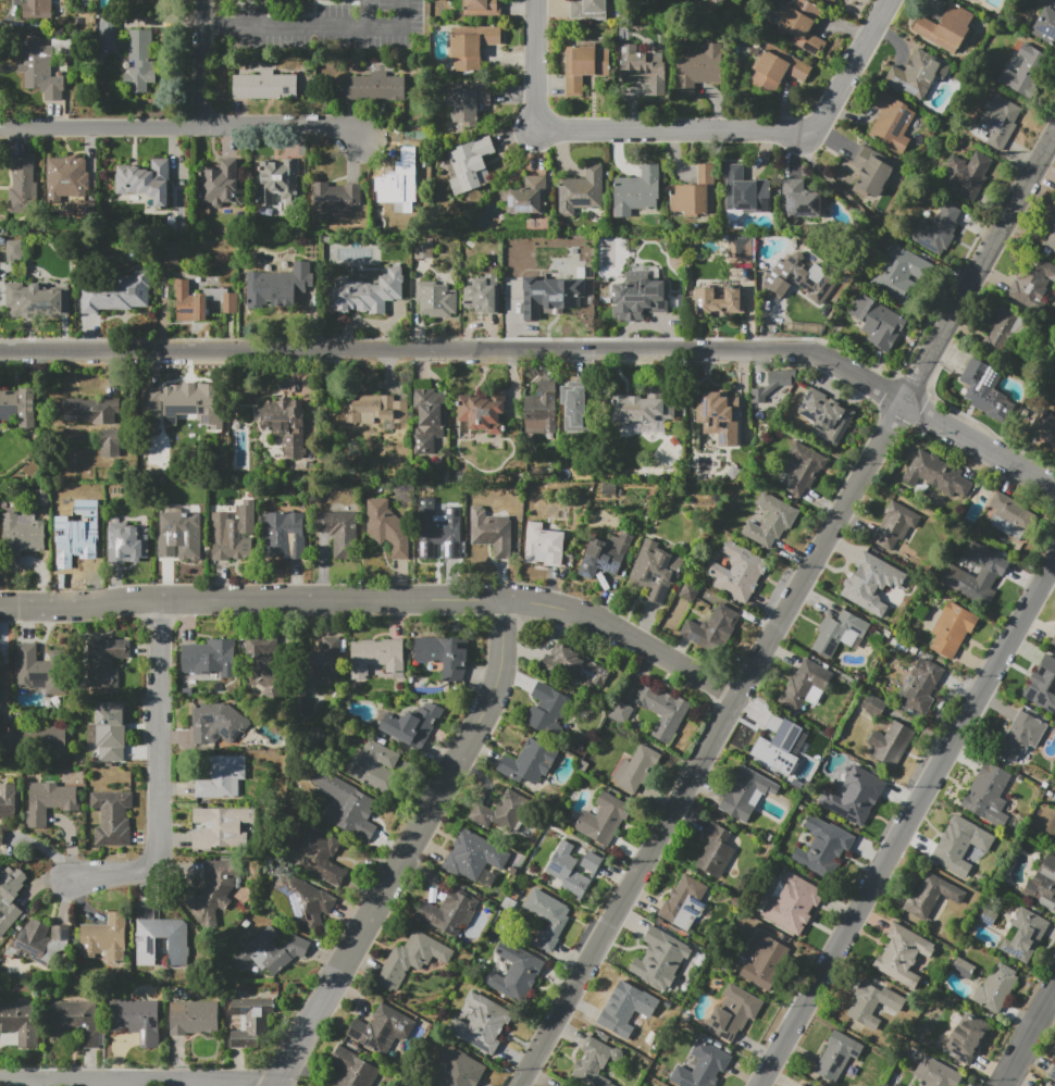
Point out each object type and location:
building: (834, 0)
building: (970, 0)
building: (648, 2)
building: (715, 2)
building: (482, 8)
building: (38, 9)
building: (587, 10)
road: (367, 15)
building: (802, 23)
road: (211, 24)
building: (1046, 24)
building: (945, 28)
road: (318, 30)
building: (108, 36)
building: (471, 47)
building: (140, 60)
road: (204, 64)
building: (584, 66)
building: (698, 67)
building: (643, 68)
building: (777, 68)
building: (39, 70)
building: (1023, 70)
building: (918, 74)
building: (265, 86)
building: (374, 87)
building: (470, 103)
building: (891, 122)
building: (997, 122)
road: (684, 127)
road: (181, 128)
road: (516, 134)
building: (471, 164)
building: (67, 170)
building: (871, 172)
building: (401, 174)
building: (967, 174)
building: (146, 180)
building: (278, 180)
building: (223, 184)
building: (23, 187)
building: (745, 190)
building: (581, 191)
building: (636, 191)
building: (696, 192)
building: (529, 197)
building: (335, 200)
building: (799, 201)
building: (83, 208)
building: (594, 216)
road: (869, 219)
building: (941, 226)
building: (1051, 234)
building: (422, 248)
building: (740, 249)
building: (14, 250)
building: (169, 252)
building: (277, 253)
building: (806, 257)
building: (284, 264)
building: (268, 267)
building: (897, 274)
building: (798, 278)
building: (198, 279)
building: (1032, 282)
building: (280, 287)
building: (116, 294)
building: (367, 294)
building: (483, 294)
building: (548, 295)
building: (638, 296)
building: (436, 299)
building: (36, 300)
building: (202, 302)
building: (720, 302)
building: (877, 321)
building: (1000, 327)
road: (545, 350)
building: (773, 383)
building: (984, 389)
building: (150, 400)
building: (18, 405)
building: (575, 405)
building: (643, 405)
building: (184, 408)
building: (542, 409)
building: (91, 410)
building: (376, 410)
building: (481, 413)
building: (282, 414)
building: (718, 416)
building: (826, 416)
building: (429, 422)
building: (1044, 426)
building: (110, 442)
building: (803, 470)
building: (936, 474)
building: (1010, 515)
building: (771, 522)
building: (896, 526)
building: (182, 528)
building: (387, 528)
building: (440, 528)
building: (235, 532)
building: (343, 532)
building: (492, 532)
building: (286, 534)
building: (21, 539)
building: (125, 541)
building: (74, 544)
building: (543, 545)
building: (605, 554)
building: (655, 571)
building: (992, 571)
building: (737, 572)
building: (869, 582)
building: (687, 589)
road: (380, 600)
road: (786, 608)
building: (952, 628)
building: (712, 629)
building: (839, 633)
building: (1053, 640)
building: (260, 650)
building: (443, 651)
building: (210, 657)
building: (376, 657)
building: (321, 661)
road: (1, 662)
building: (104, 664)
building: (574, 665)
building: (40, 671)
road: (637, 676)
building: (331, 682)
building: (1043, 685)
building: (805, 686)
building: (920, 687)
building: (872, 706)
building: (547, 709)
building: (619, 711)
building: (663, 711)
building: (220, 721)
building: (412, 725)
building: (109, 728)
building: (1021, 735)
building: (30, 738)
building: (773, 740)
building: (891, 744)
building: (527, 762)
building: (375, 765)
building: (636, 767)
road: (160, 775)
building: (222, 777)
building: (746, 794)
building: (989, 795)
building: (855, 796)
building: (1053, 800)
building: (49, 801)
building: (7, 806)
building: (346, 806)
building: (502, 813)
building: (112, 817)
building: (604, 819)
road: (906, 822)
building: (221, 827)
building: (1054, 841)
building: (822, 846)
building: (958, 846)
road: (407, 848)
building: (716, 850)
building: (474, 854)
building: (321, 857)
building: (591, 862)
building: (567, 870)
building: (1042, 885)
building: (214, 888)
building: (10, 897)
building: (929, 898)
building: (305, 899)
building: (684, 902)
building: (794, 904)
building: (448, 912)
building: (548, 918)
building: (1025, 936)
building: (161, 937)
building: (104, 939)
building: (39, 941)
building: (651, 950)
building: (270, 952)
building: (903, 956)
building: (411, 959)
building: (765, 961)
building: (514, 971)
building: (995, 988)
building: (872, 1004)
building: (628, 1008)
building: (733, 1012)
building: (193, 1018)
building: (137, 1020)
building: (76, 1021)
building: (250, 1021)
building: (22, 1022)
building: (482, 1023)
building: (382, 1028)
building: (967, 1038)
road: (1029, 1039)
building: (836, 1056)
building: (594, 1063)
building: (702, 1066)
building: (356, 1069)
building: (466, 1072)
building: (936, 1073)
building: (1052, 1074)
road: (138, 1084)
building: (803, 1085)
building: (909, 1085)
building: (910, 1085)
building: (1045, 1085)

